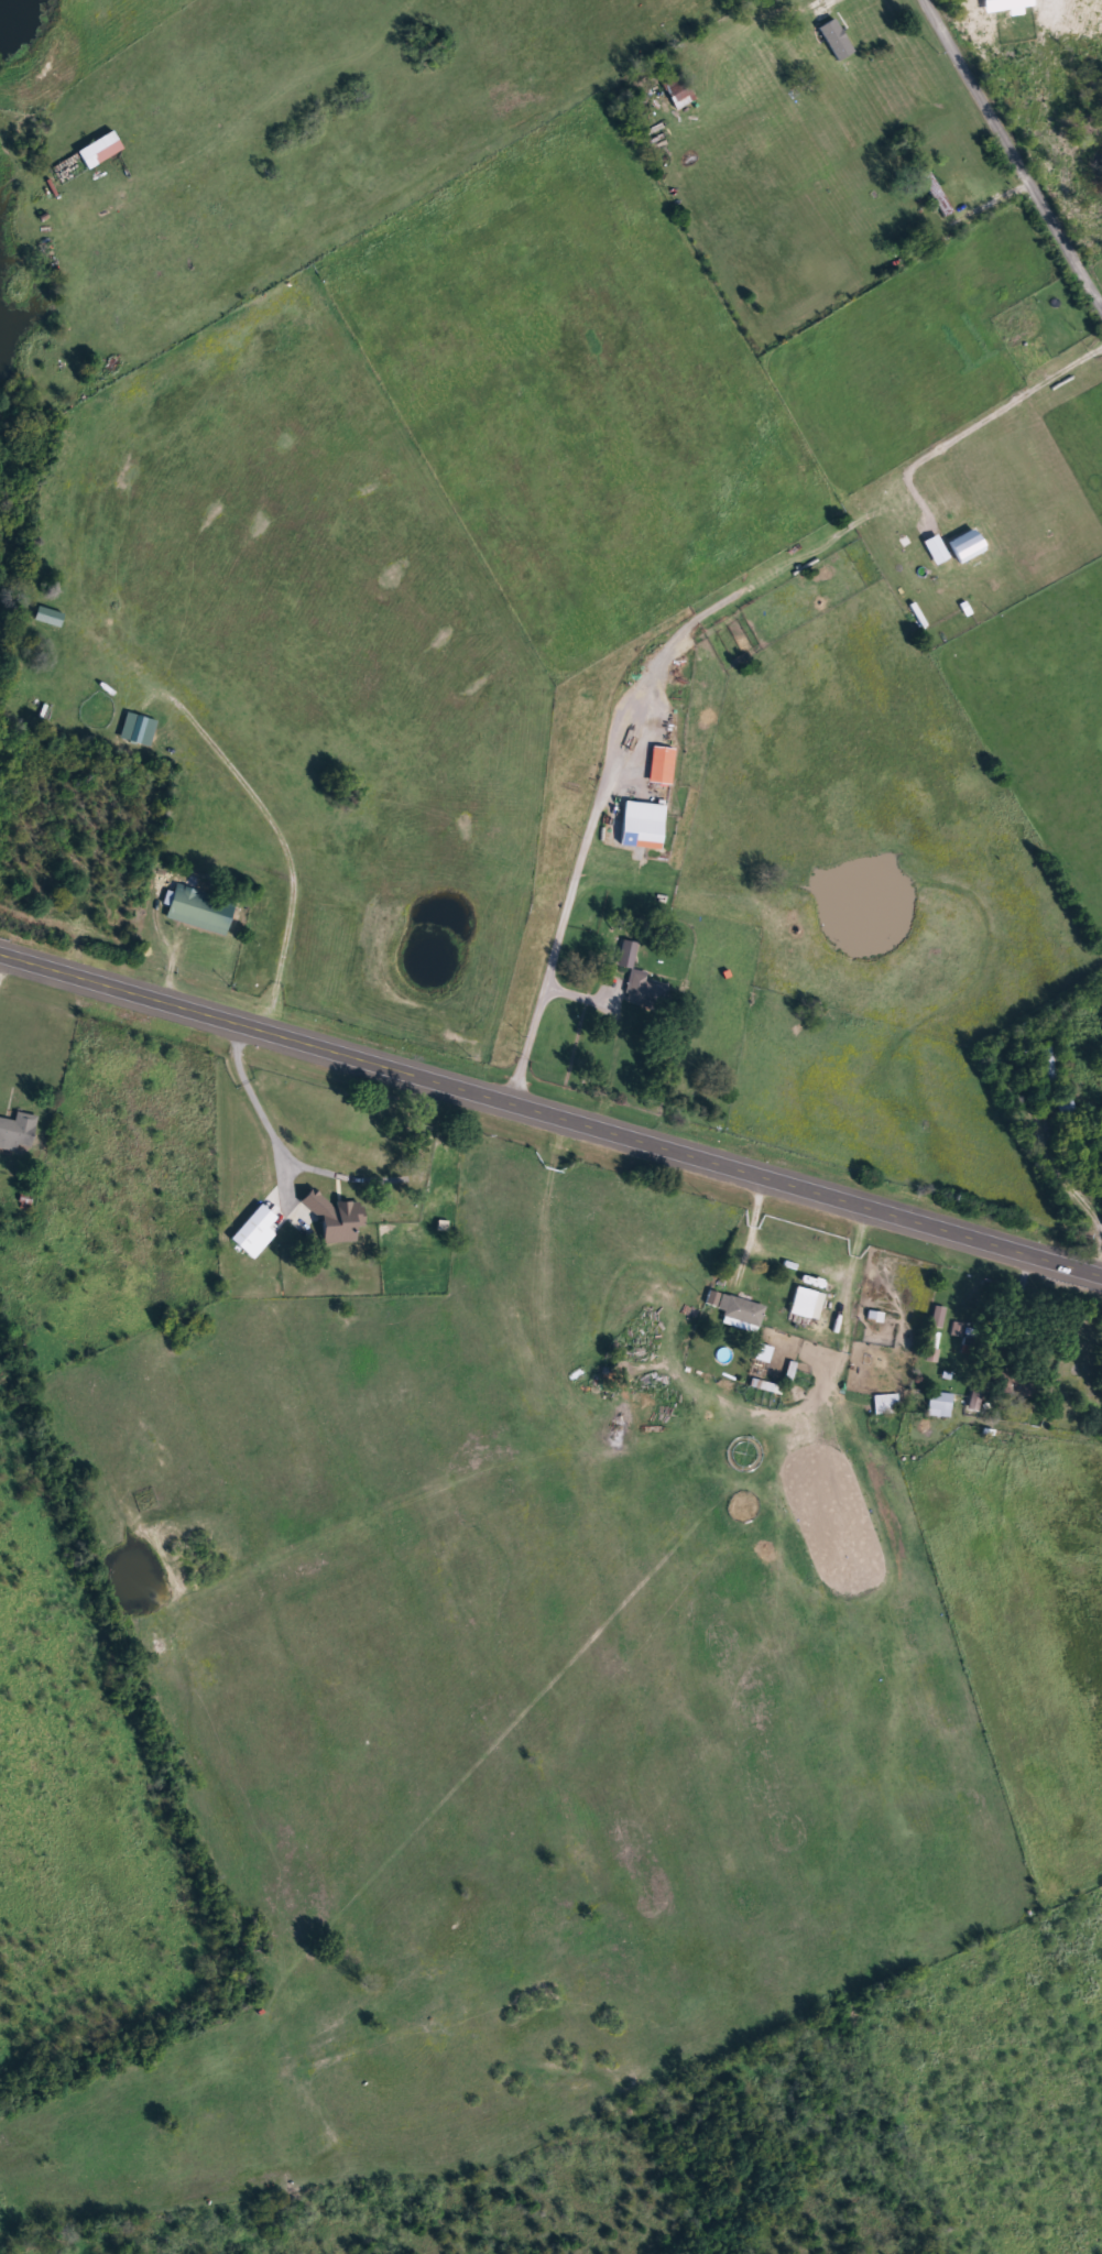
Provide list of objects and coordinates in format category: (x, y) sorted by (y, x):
building: (837, 40)
building: (679, 91)
building: (101, 150)
road: (1012, 152)
building: (936, 193)
building: (1033, 330)
building: (967, 547)
building: (937, 549)
building: (50, 618)
building: (139, 729)
building: (663, 764)
building: (645, 824)
building: (201, 910)
building: (629, 954)
building: (647, 991)
road: (721, 1060)
building: (1049, 1071)
road: (550, 1106)
building: (18, 1131)
building: (337, 1218)
building: (257, 1232)
building: (714, 1298)
building: (807, 1303)
building: (741, 1313)
building: (940, 1317)
building: (960, 1329)
building: (19, 1344)
building: (765, 1353)
building: (975, 1400)
building: (885, 1404)
building: (939, 1404)

